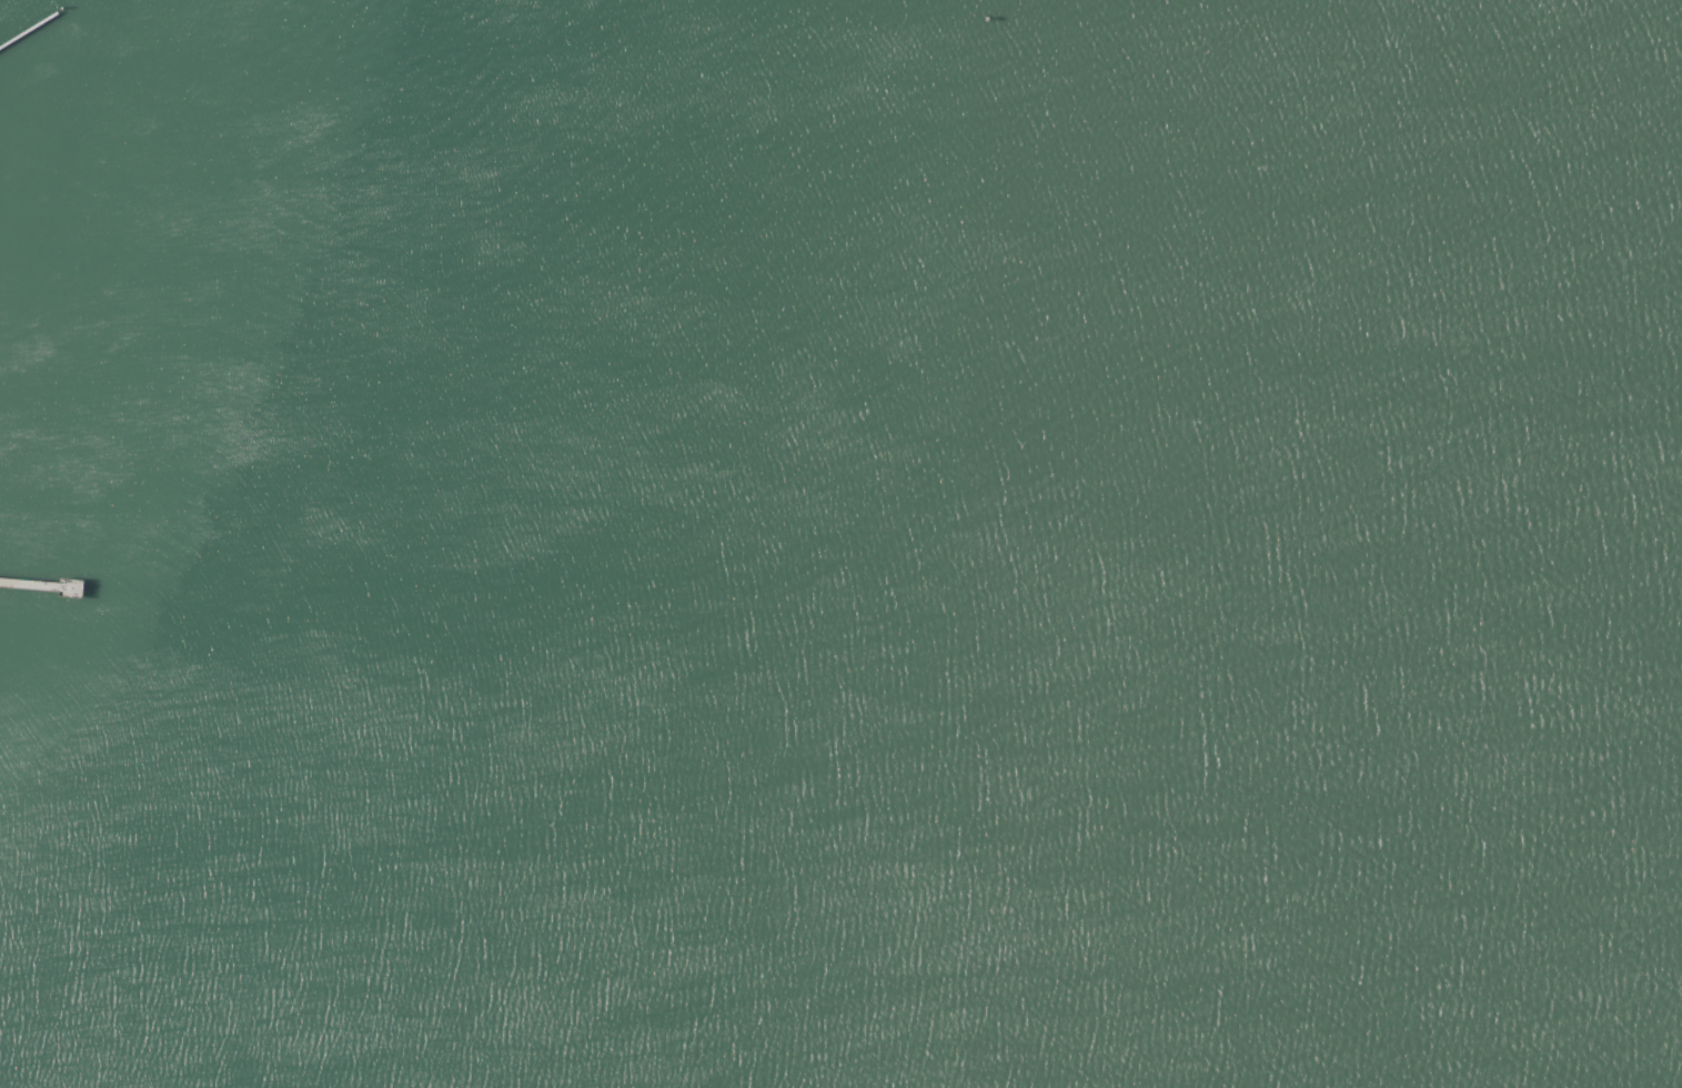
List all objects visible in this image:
pier: (46, 585)

